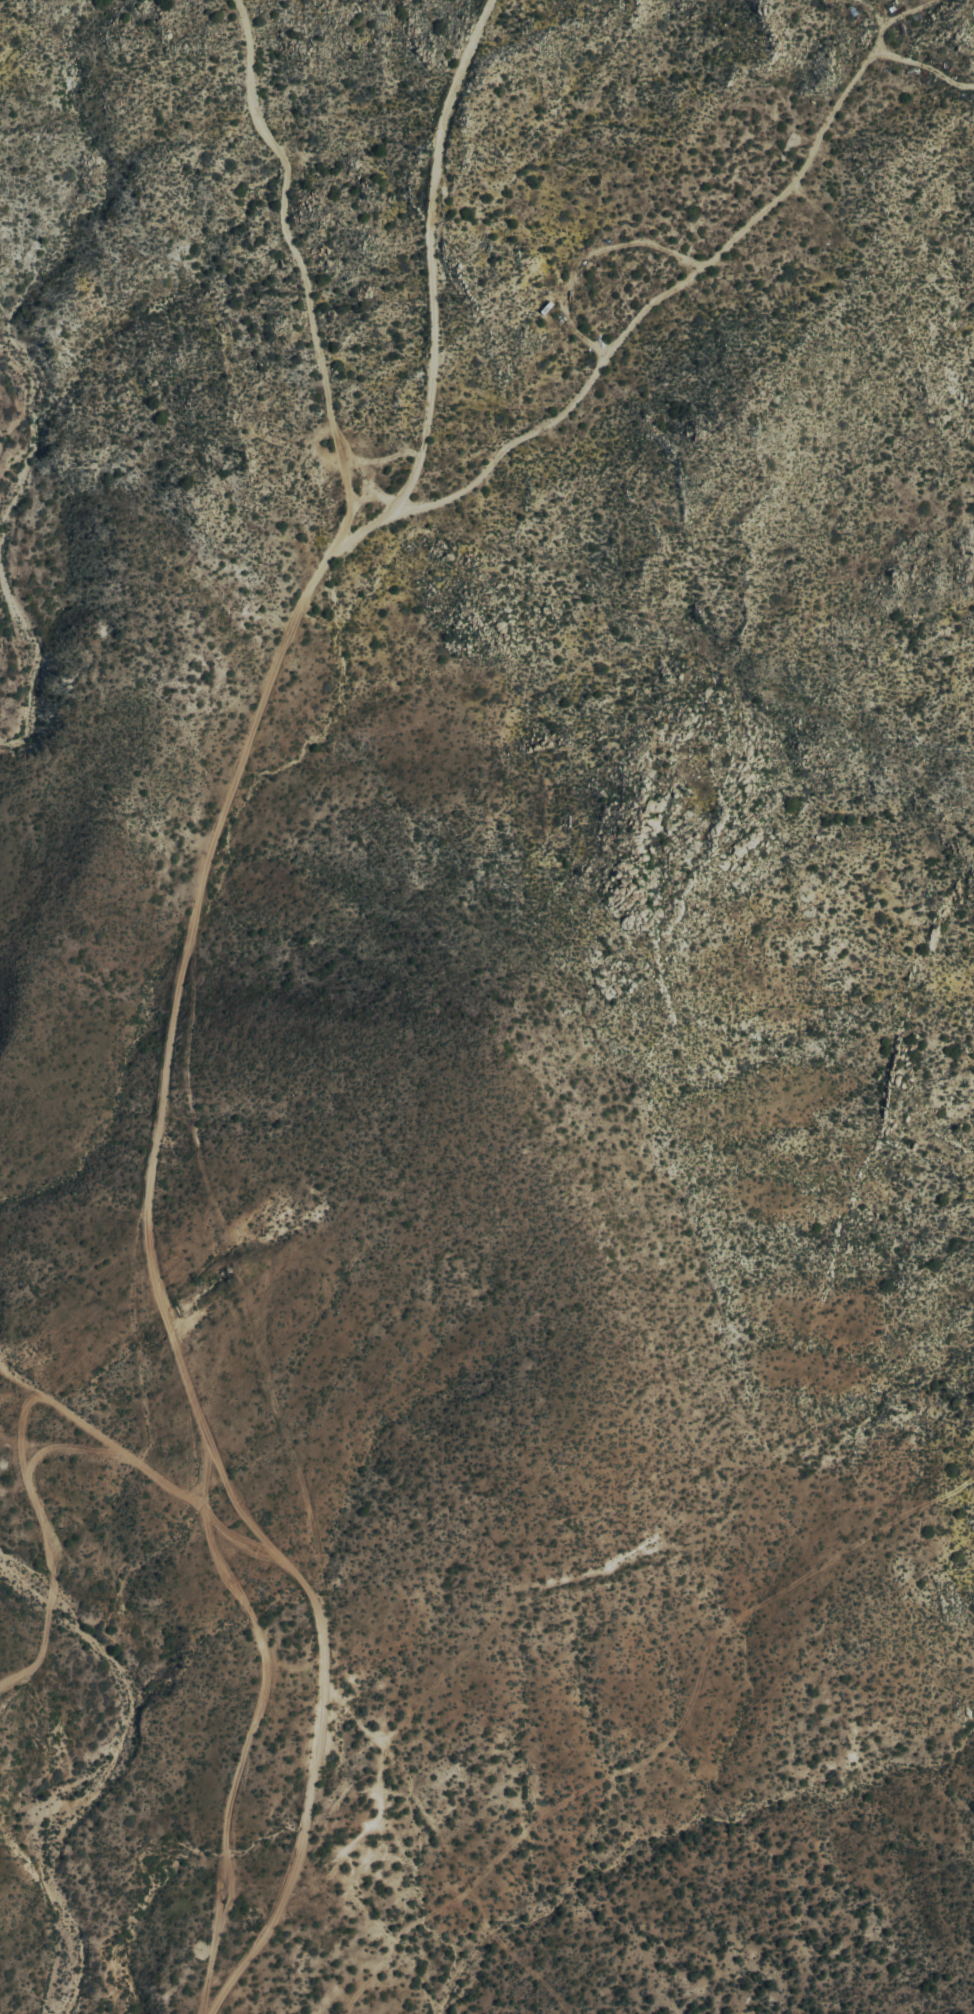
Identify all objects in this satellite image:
road: (435, 362)
road: (503, 452)
road: (358, 476)
road: (358, 525)
road: (172, 1015)
quarry: (223, 1279)
road: (130, 1456)
road: (51, 1569)
road: (252, 1727)

